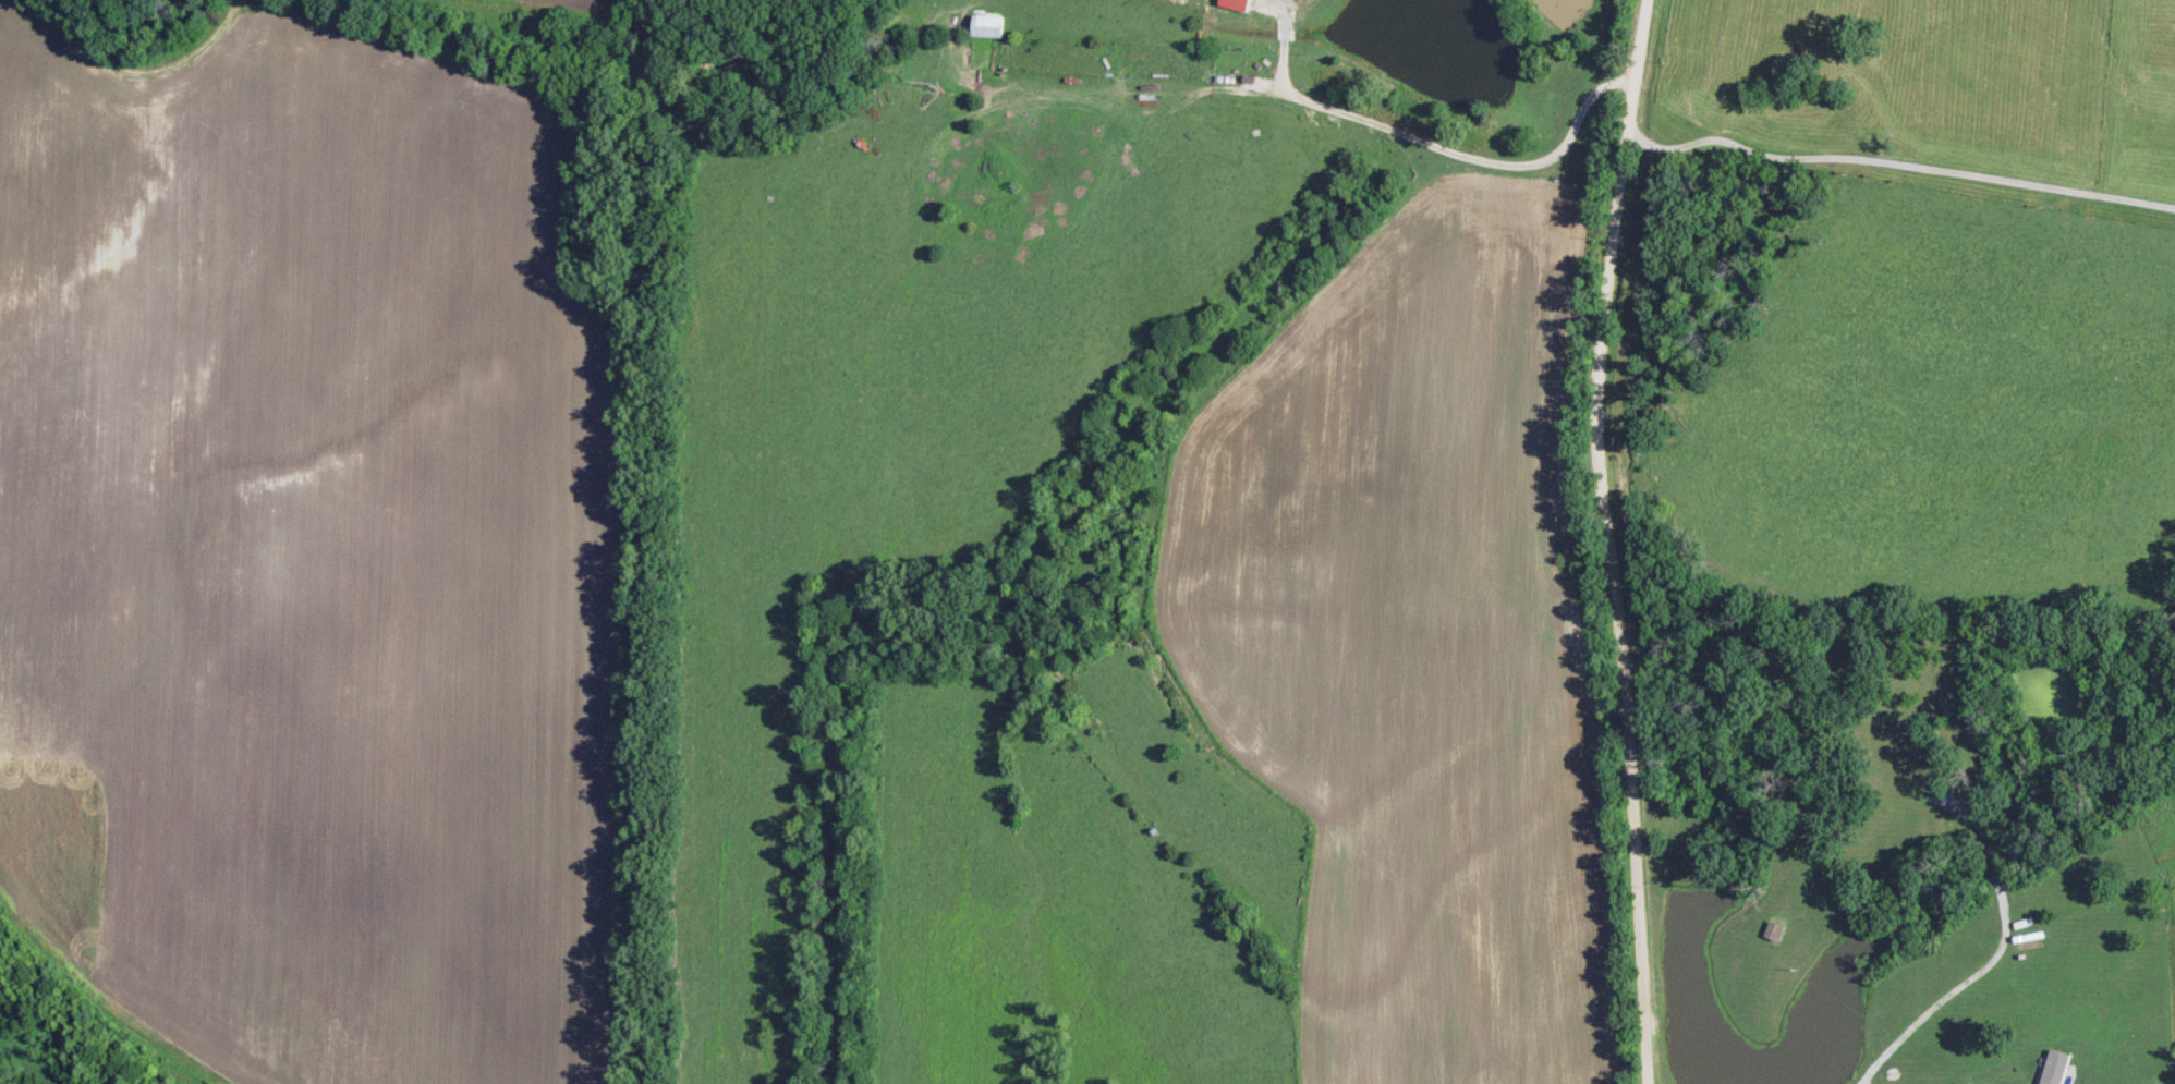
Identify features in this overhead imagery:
building: (1240, 4)
building: (991, 26)
road: (1900, 166)
road: (1607, 540)
building: (2058, 1067)

